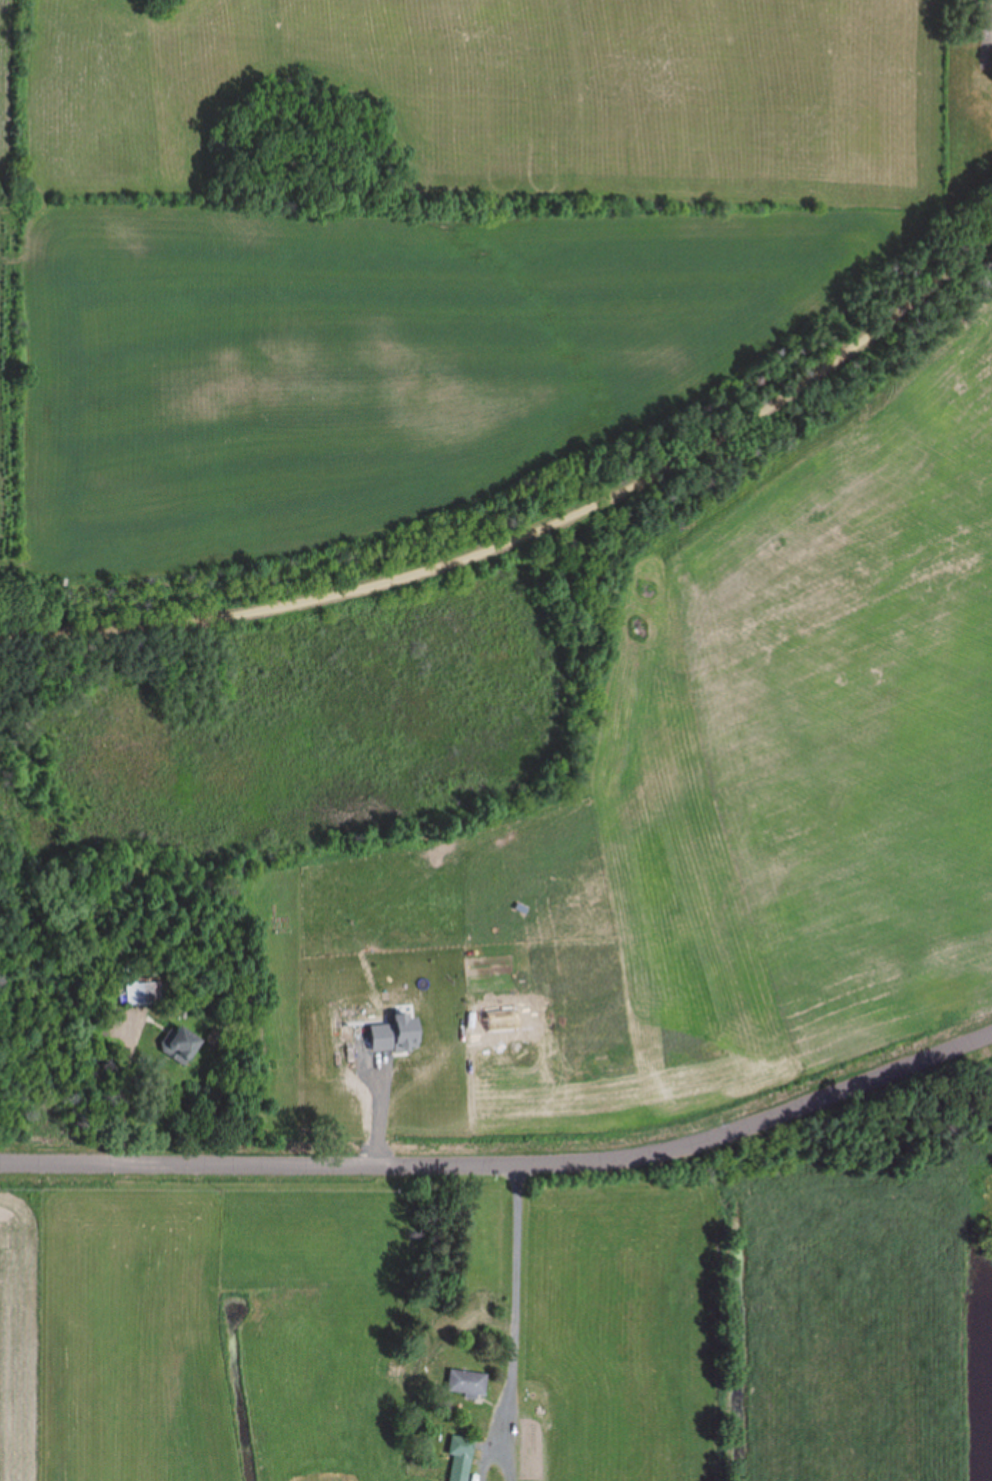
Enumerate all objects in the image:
crop: (416, 248)
road: (533, 532)
crop: (698, 824)
building: (145, 992)
building: (176, 1046)
road: (506, 1158)
building: (465, 1384)
building: (459, 1458)

